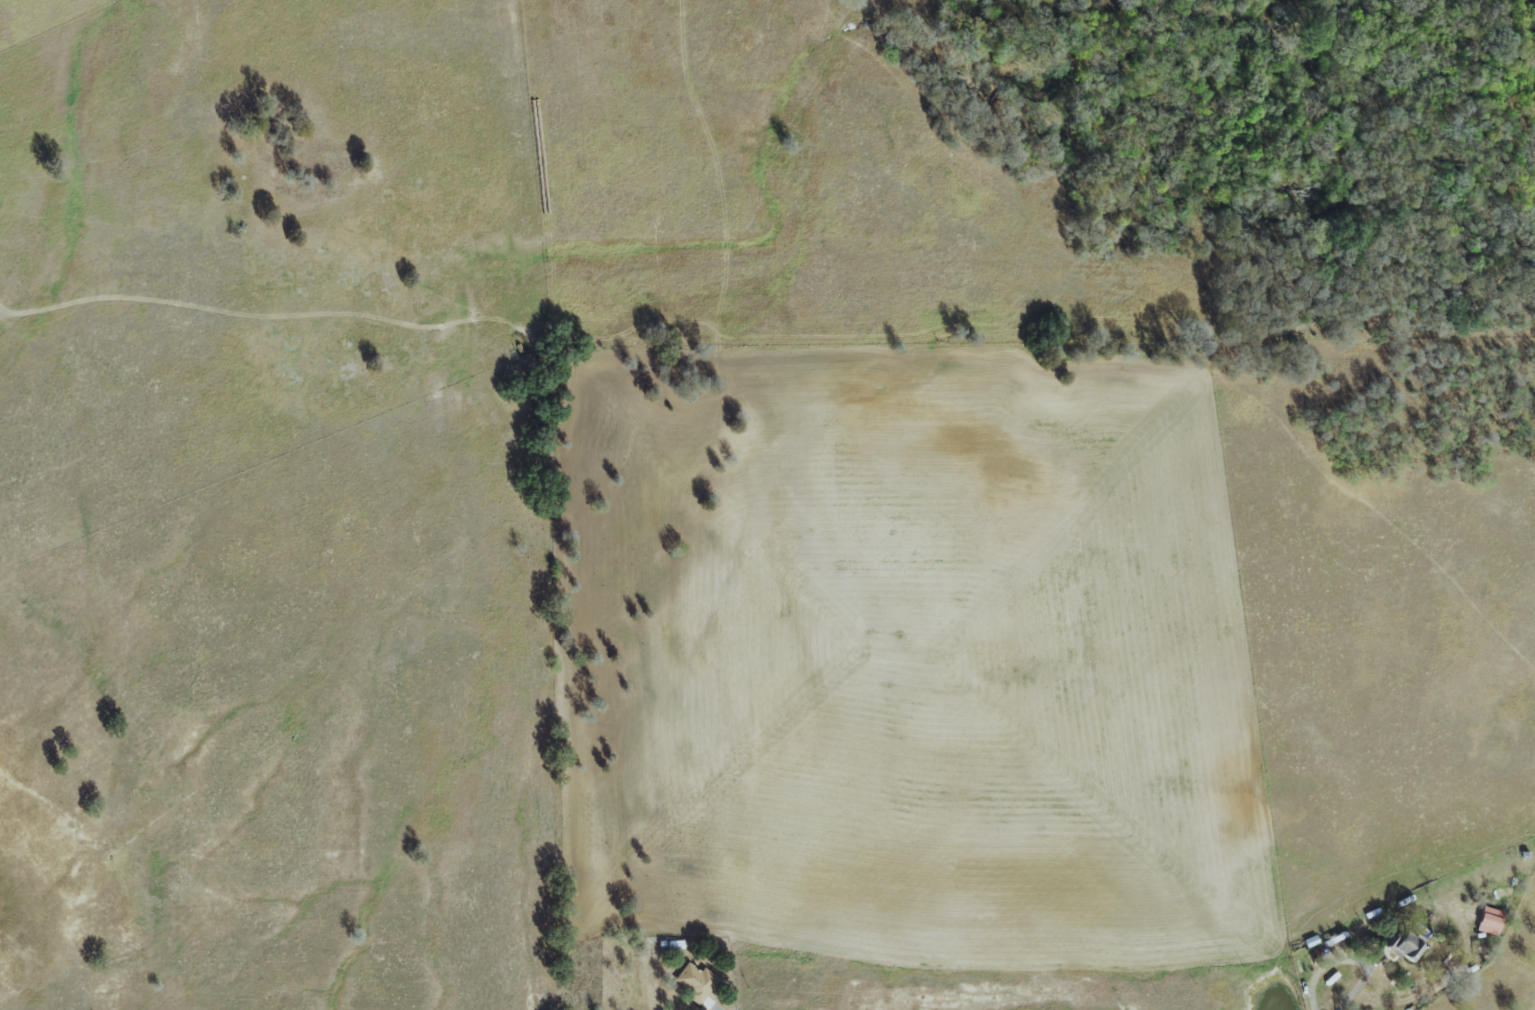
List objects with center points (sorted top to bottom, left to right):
building: (1396, 946)
building: (690, 983)
road: (1323, 998)

